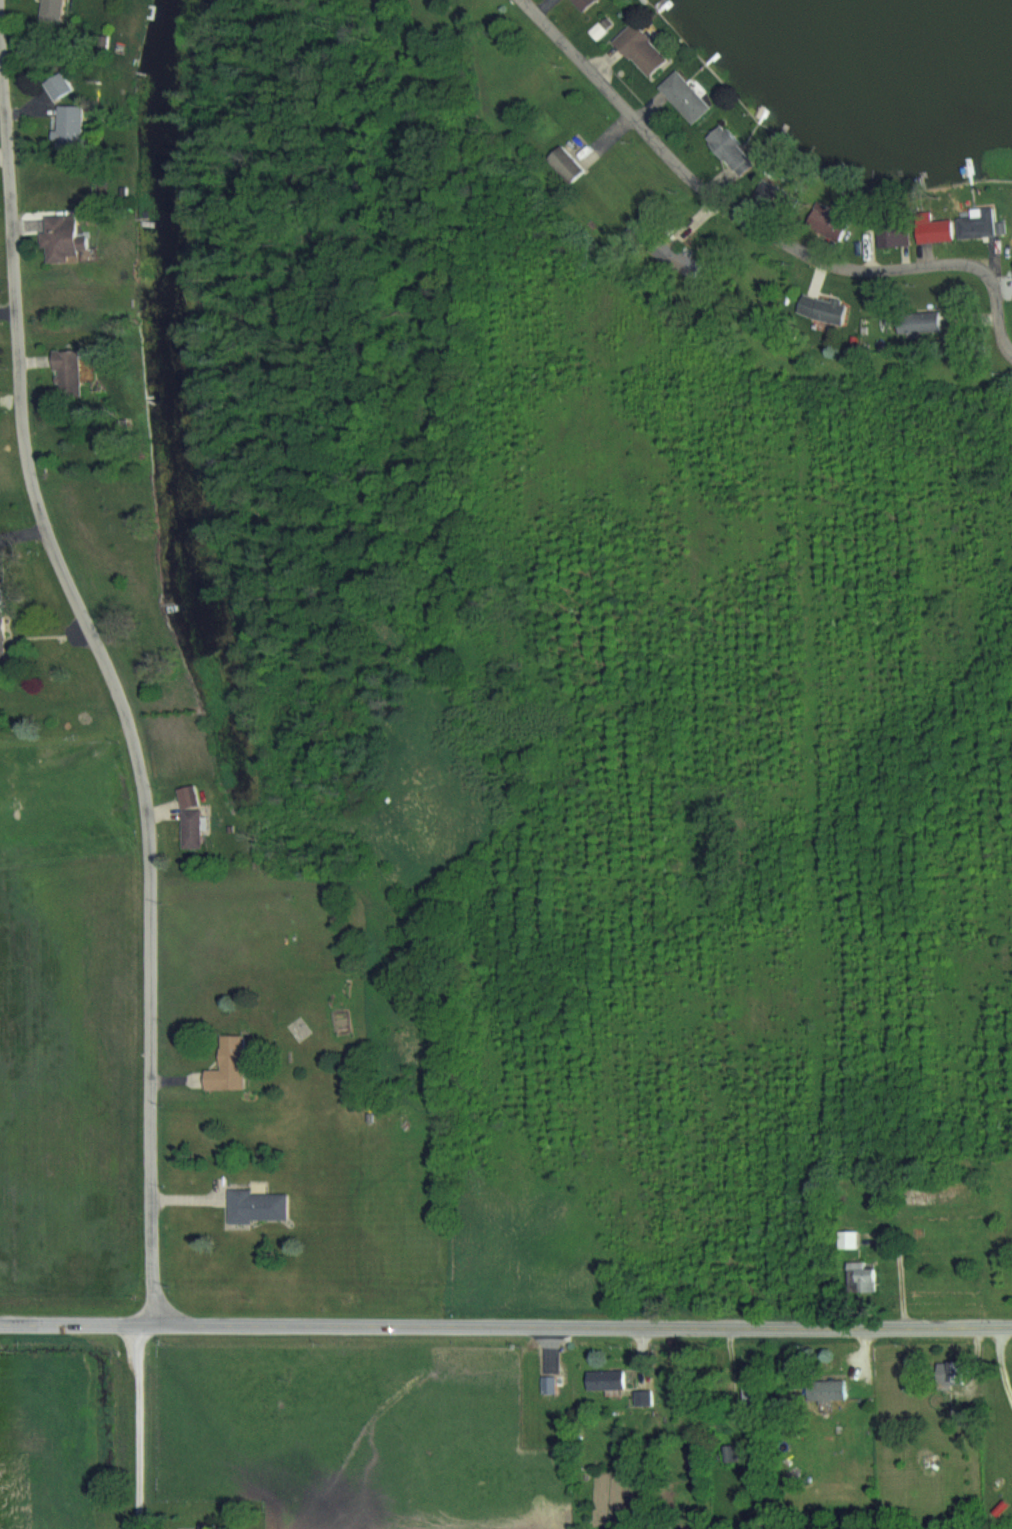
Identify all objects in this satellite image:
building: (583, 4)
building: (55, 10)
building: (641, 49)
building: (58, 83)
building: (684, 96)
building: (69, 126)
building: (730, 149)
building: (566, 163)
building: (772, 193)
building: (830, 225)
road: (757, 226)
building: (934, 229)
building: (892, 230)
building: (66, 237)
building: (677, 258)
building: (821, 308)
building: (919, 322)
building: (69, 368)
road: (21, 529)
building: (4, 634)
road: (107, 669)
building: (191, 819)
building: (230, 1064)
building: (259, 1205)
building: (863, 1277)
road: (506, 1325)
building: (950, 1373)
building: (607, 1379)
building: (550, 1384)
building: (828, 1389)
building: (644, 1397)
road: (131, 1426)

